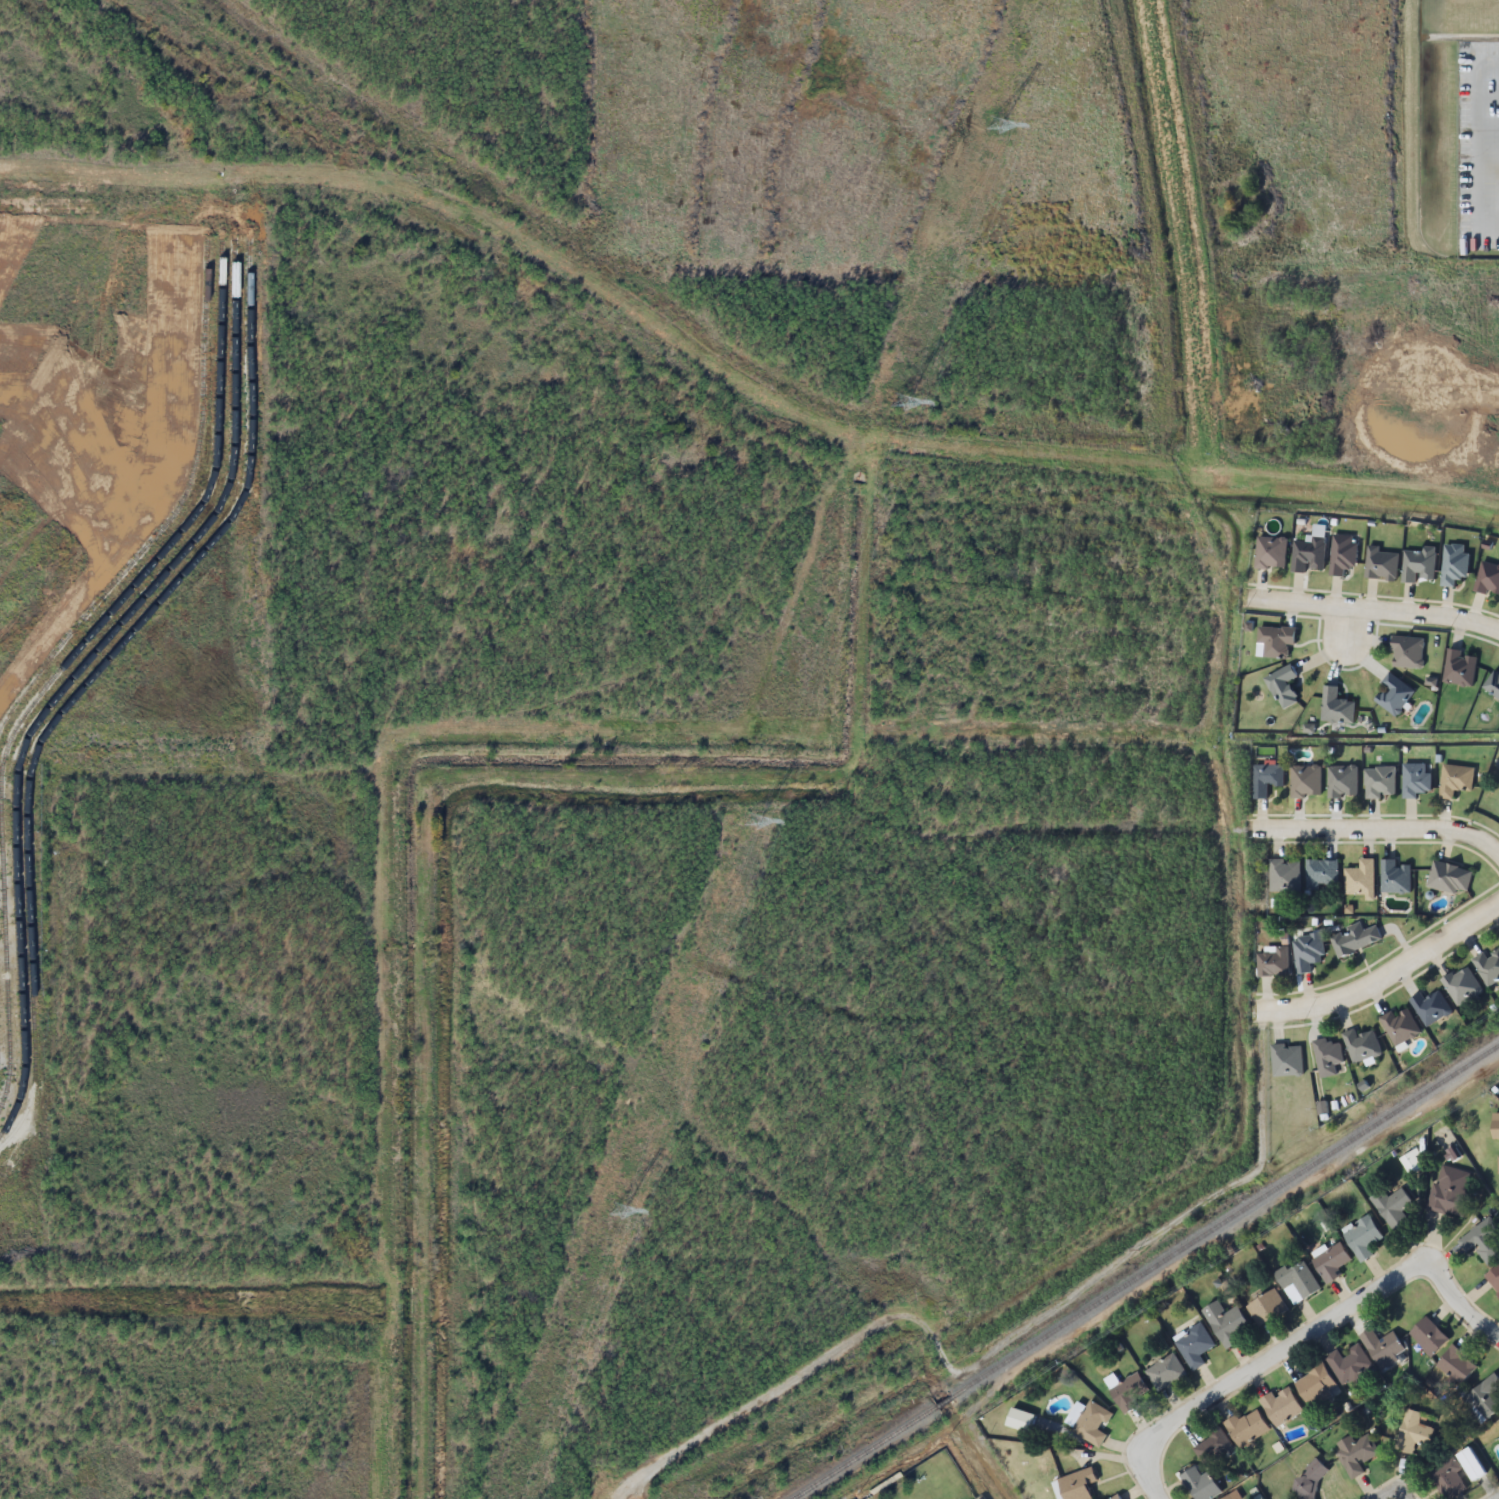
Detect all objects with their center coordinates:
road: (1487, 97)
road: (1487, 126)
road: (1474, 147)
road: (1376, 403)
road: (1476, 403)
building: (1271, 545)
building: (1309, 547)
building: (1343, 547)
building: (1453, 556)
building: (1380, 557)
building: (1418, 558)
building: (1487, 572)
road: (1375, 607)
building: (1279, 632)
building: (1408, 644)
road: (1338, 653)
building: (1460, 660)
building: (1491, 677)
building: (1285, 678)
building: (1396, 687)
building: (1336, 699)
building: (1267, 771)
building: (1306, 773)
building: (1416, 773)
building: (1343, 774)
building: (1380, 774)
building: (1456, 774)
road: (1382, 819)
building: (1284, 868)
building: (1324, 868)
building: (1450, 868)
building: (1395, 869)
building: (1361, 872)
building: (1354, 932)
building: (1308, 943)
building: (1274, 955)
building: (1488, 961)
road: (1385, 975)
building: (1462, 978)
building: (1429, 1002)
building: (1400, 1019)
building: (1362, 1037)
building: (1327, 1049)
building: (1287, 1053)
building: (1496, 1125)
building: (1411, 1162)
building: (1450, 1191)
building: (1392, 1206)
building: (1363, 1238)
building: (1482, 1241)
building: (1332, 1263)
railway: (1144, 1271)
building: (1493, 1279)
building: (1298, 1282)
building: (1266, 1308)
building: (1227, 1323)
road: (1303, 1334)
building: (1429, 1337)
building: (1194, 1345)
building: (1383, 1347)
building: (1457, 1365)
building: (1350, 1366)
building: (1166, 1372)
building: (1313, 1383)
building: (1129, 1392)
building: (1484, 1398)
building: (1281, 1405)
building: (1091, 1423)
building: (1247, 1428)
building: (1413, 1432)
building: (1213, 1446)
building: (1356, 1453)
building: (1471, 1464)
building: (1310, 1480)
building: (1448, 1480)
road: (1389, 1482)
building: (1078, 1484)
building: (1201, 1484)
building: (1117, 1497)
building: (1229, 1497)
road: (1498, 1498)

